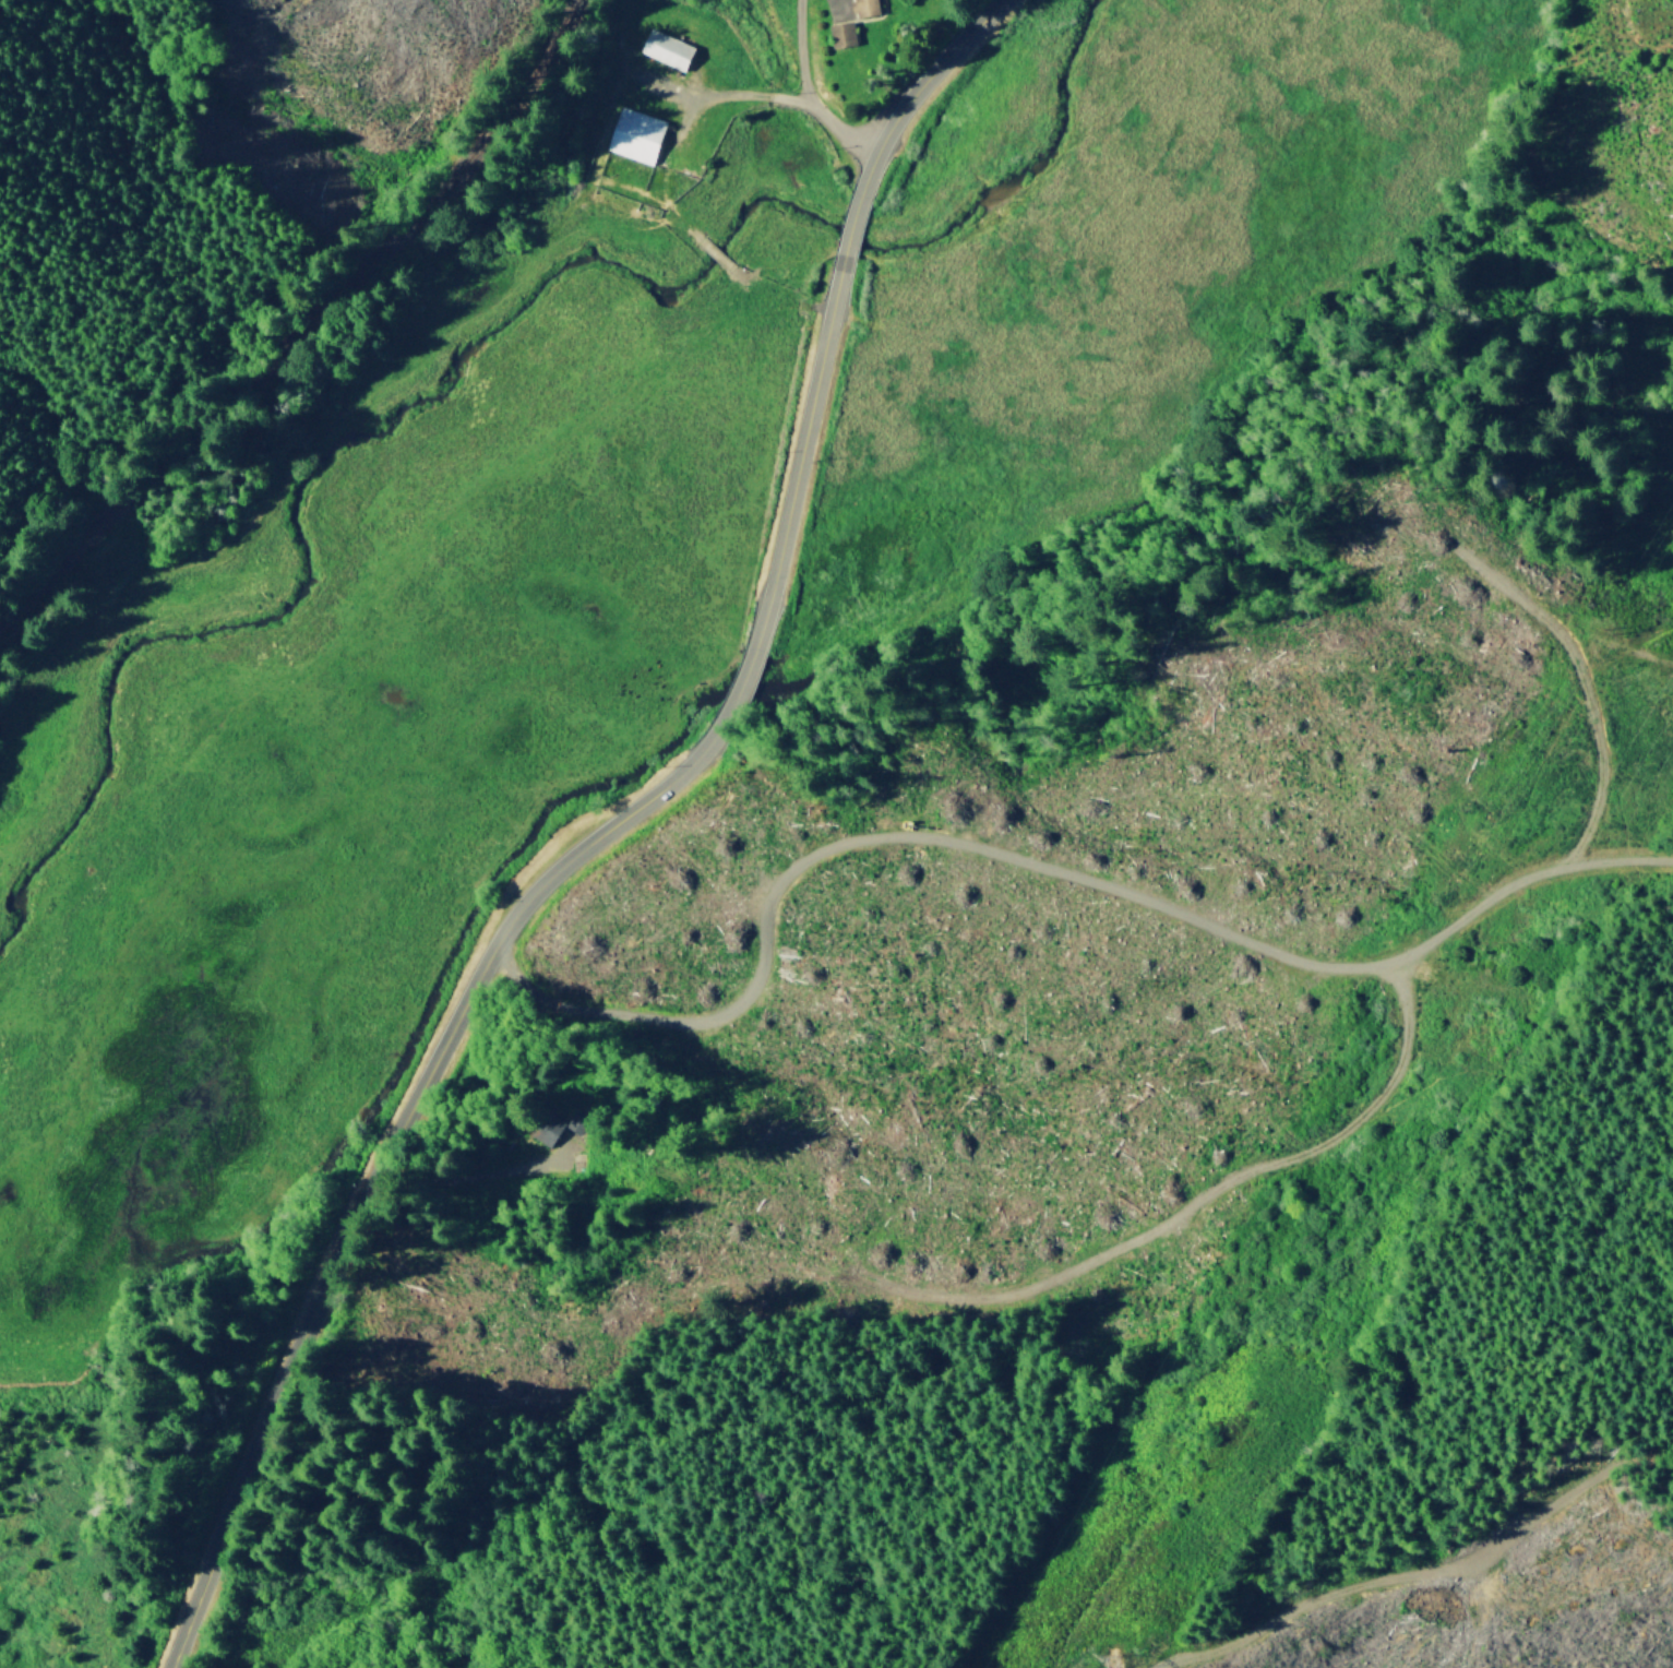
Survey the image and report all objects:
building: (864, 8)
building: (841, 34)
building: (668, 49)
building: (636, 134)
railway: (313, 346)
road: (616, 832)
road: (1186, 927)
building: (574, 1121)
building: (546, 1129)
power tower: (1102, 1660)

